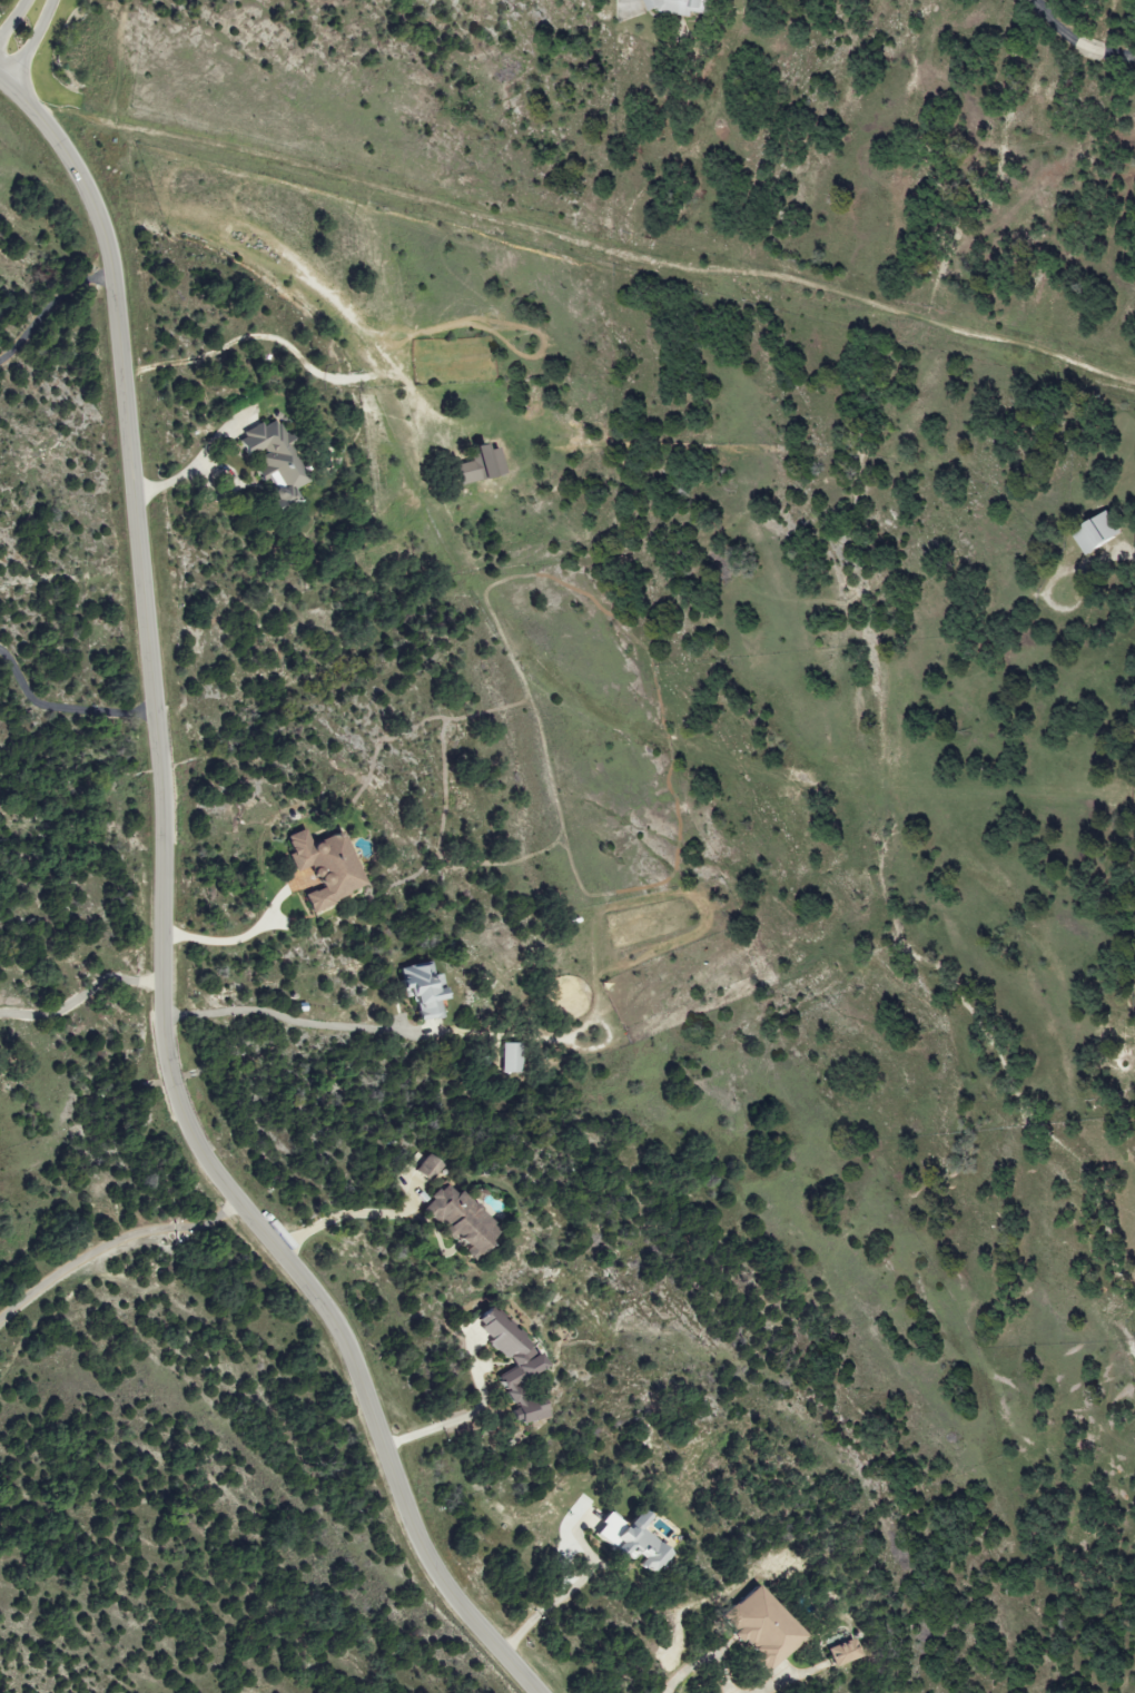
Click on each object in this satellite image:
building: (673, 6)
road: (14, 20)
road: (1074, 42)
road: (30, 47)
road: (0, 87)
road: (583, 244)
road: (50, 308)
building: (270, 461)
building: (477, 463)
road: (194, 467)
building: (1095, 531)
road: (62, 703)
building: (322, 866)
road: (161, 925)
road: (231, 936)
building: (420, 990)
road: (82, 994)
road: (279, 1018)
building: (513, 1057)
building: (426, 1168)
road: (338, 1217)
building: (458, 1217)
road: (111, 1238)
building: (511, 1365)
road: (442, 1419)
building: (631, 1542)
road: (541, 1615)
building: (759, 1626)
building: (841, 1652)
road: (699, 1662)

